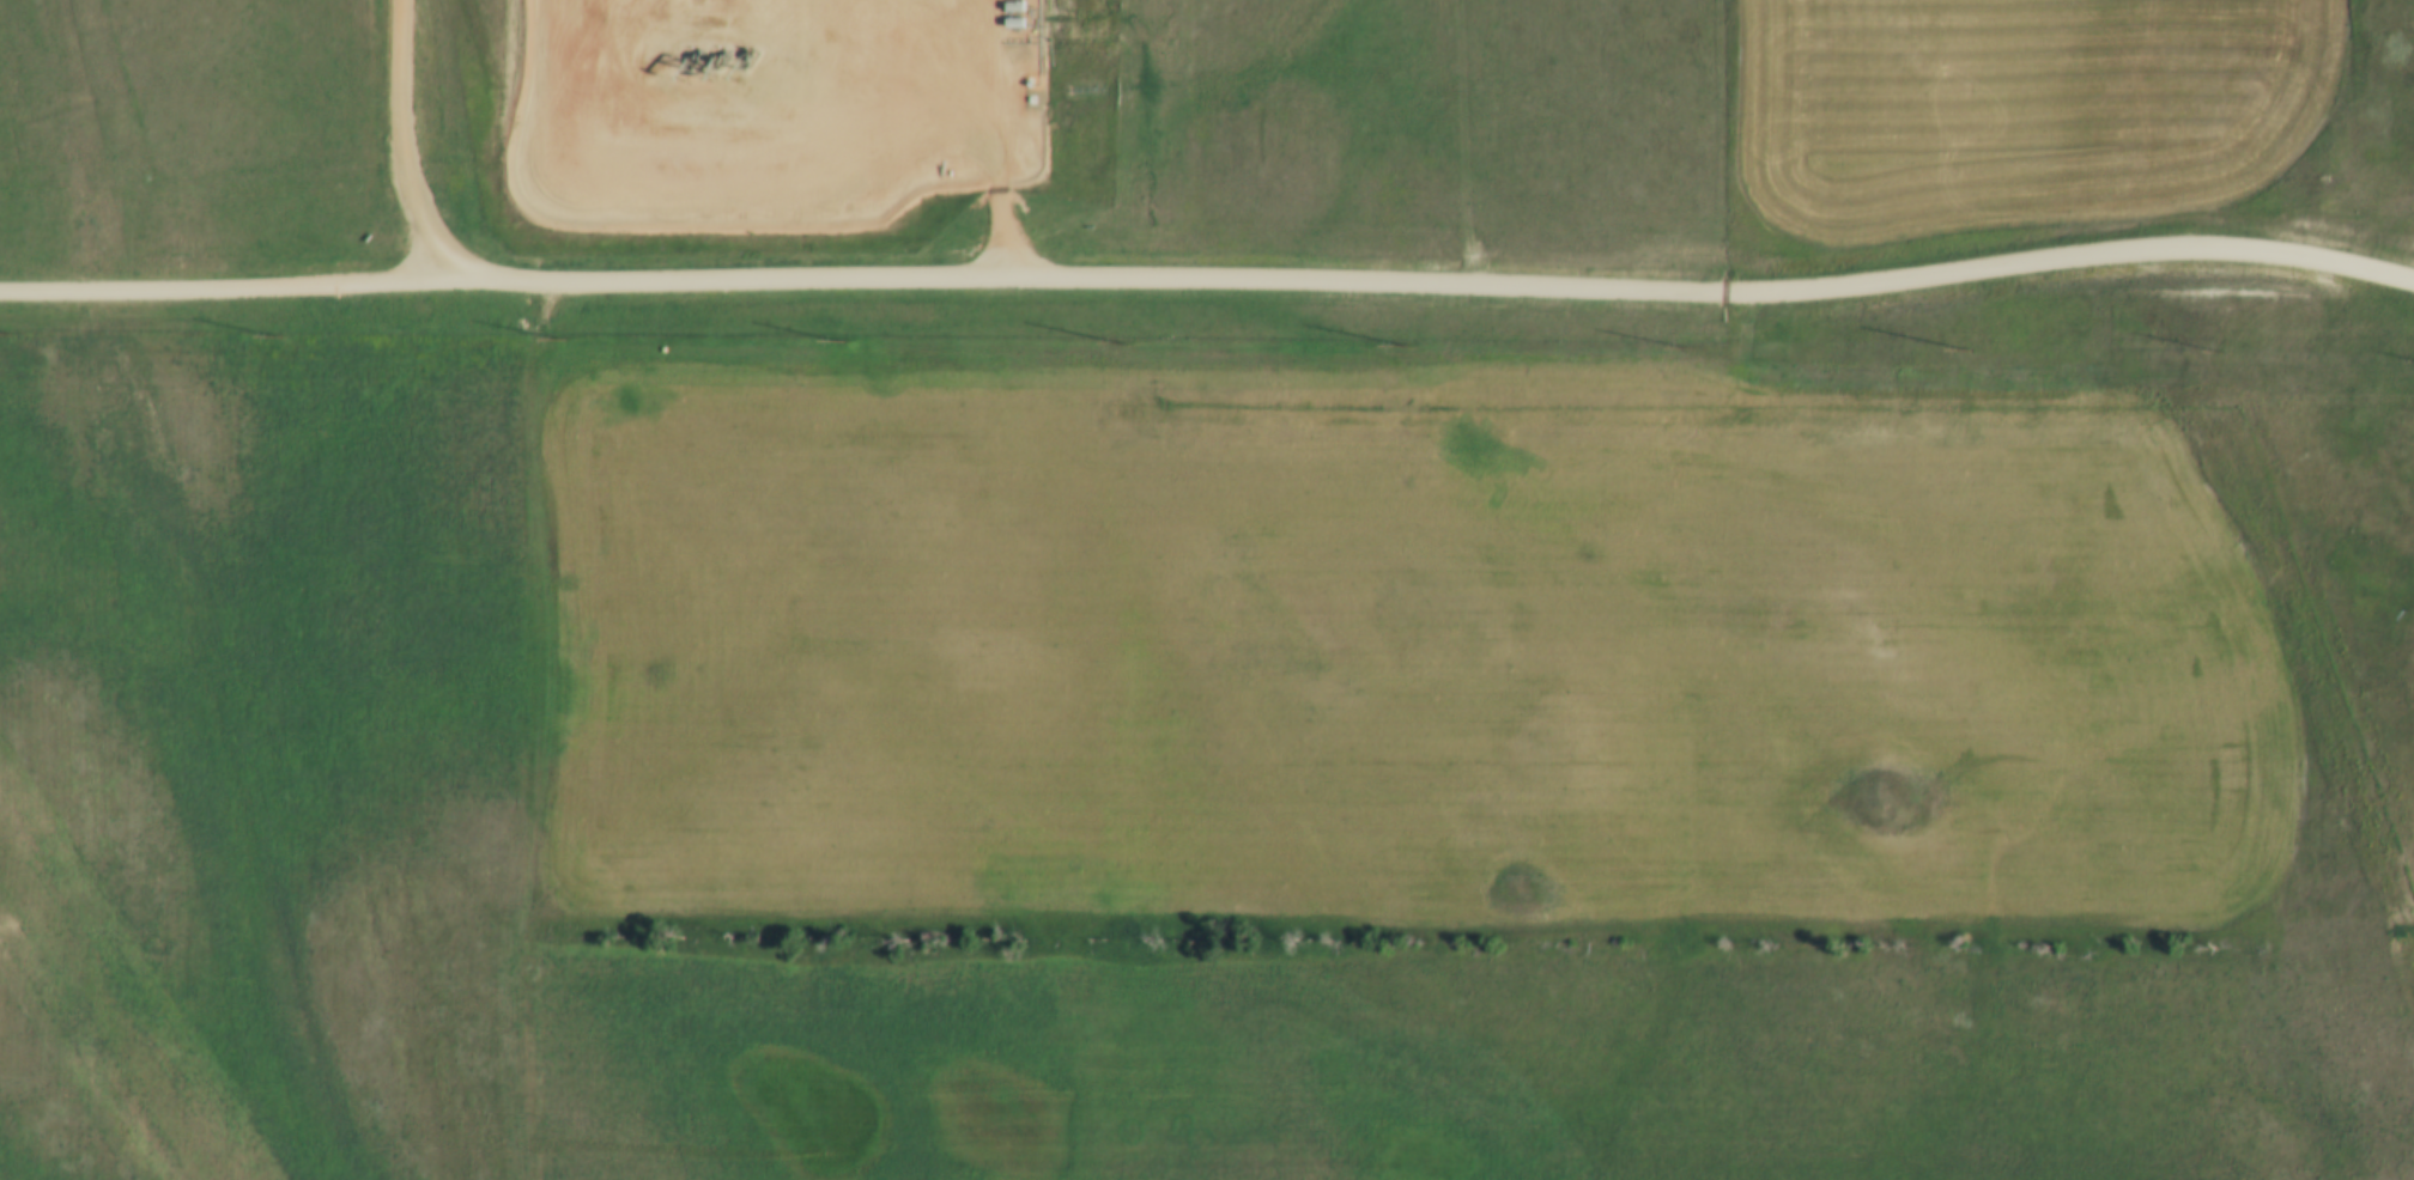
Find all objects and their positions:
road: (402, 156)
road: (1450, 284)
road: (238, 287)

